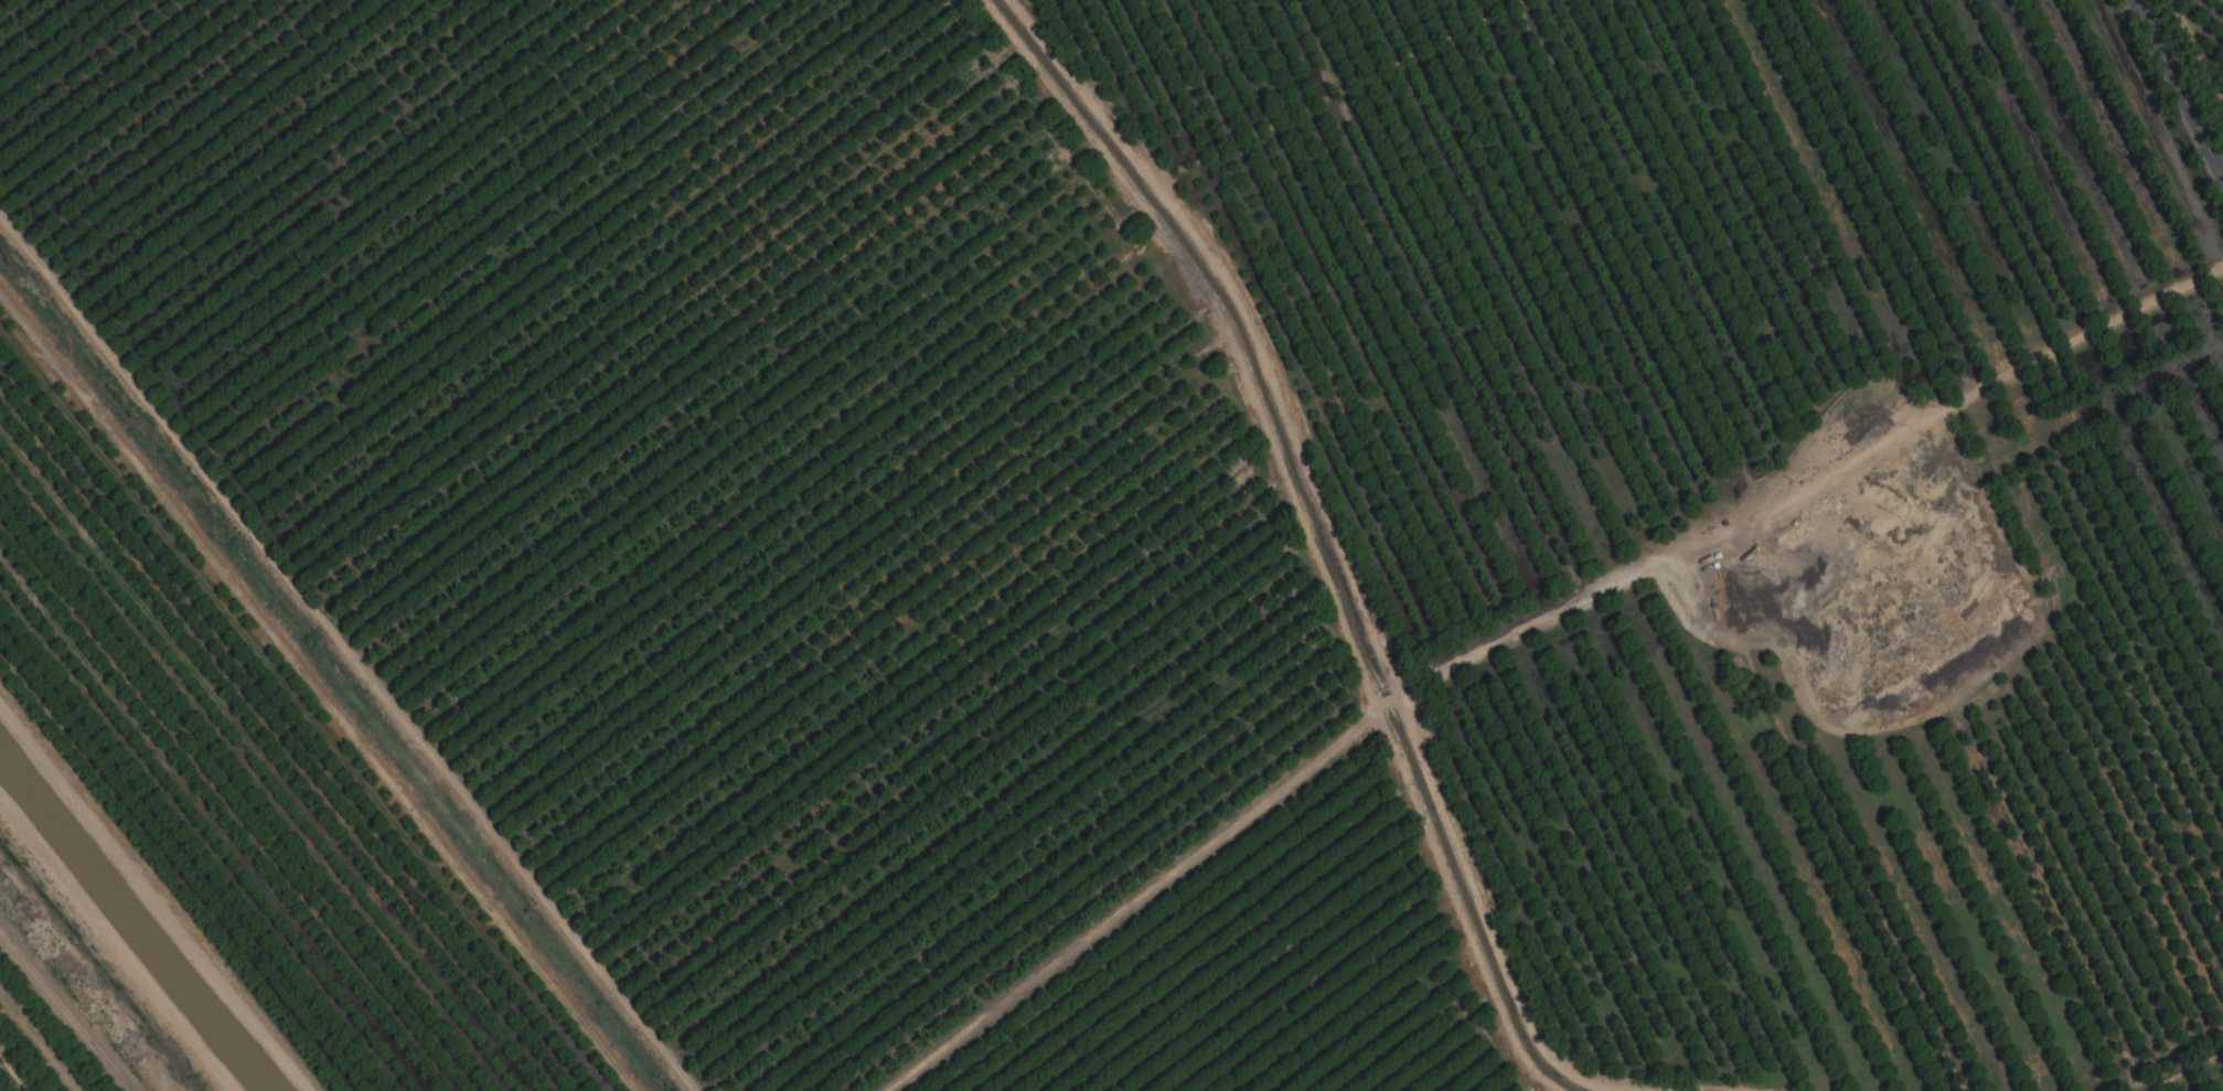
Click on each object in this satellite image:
road: (2177, 92)
road: (1338, 537)
road: (154, 897)
road: (113, 949)

